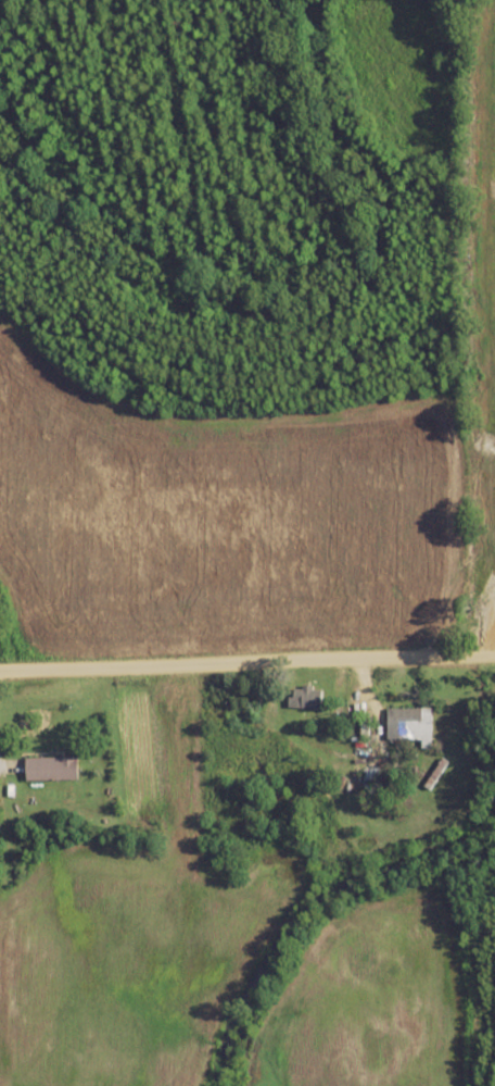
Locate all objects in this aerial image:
building: (307, 697)
road: (247, 700)
building: (406, 723)
building: (252, 750)
building: (54, 769)

